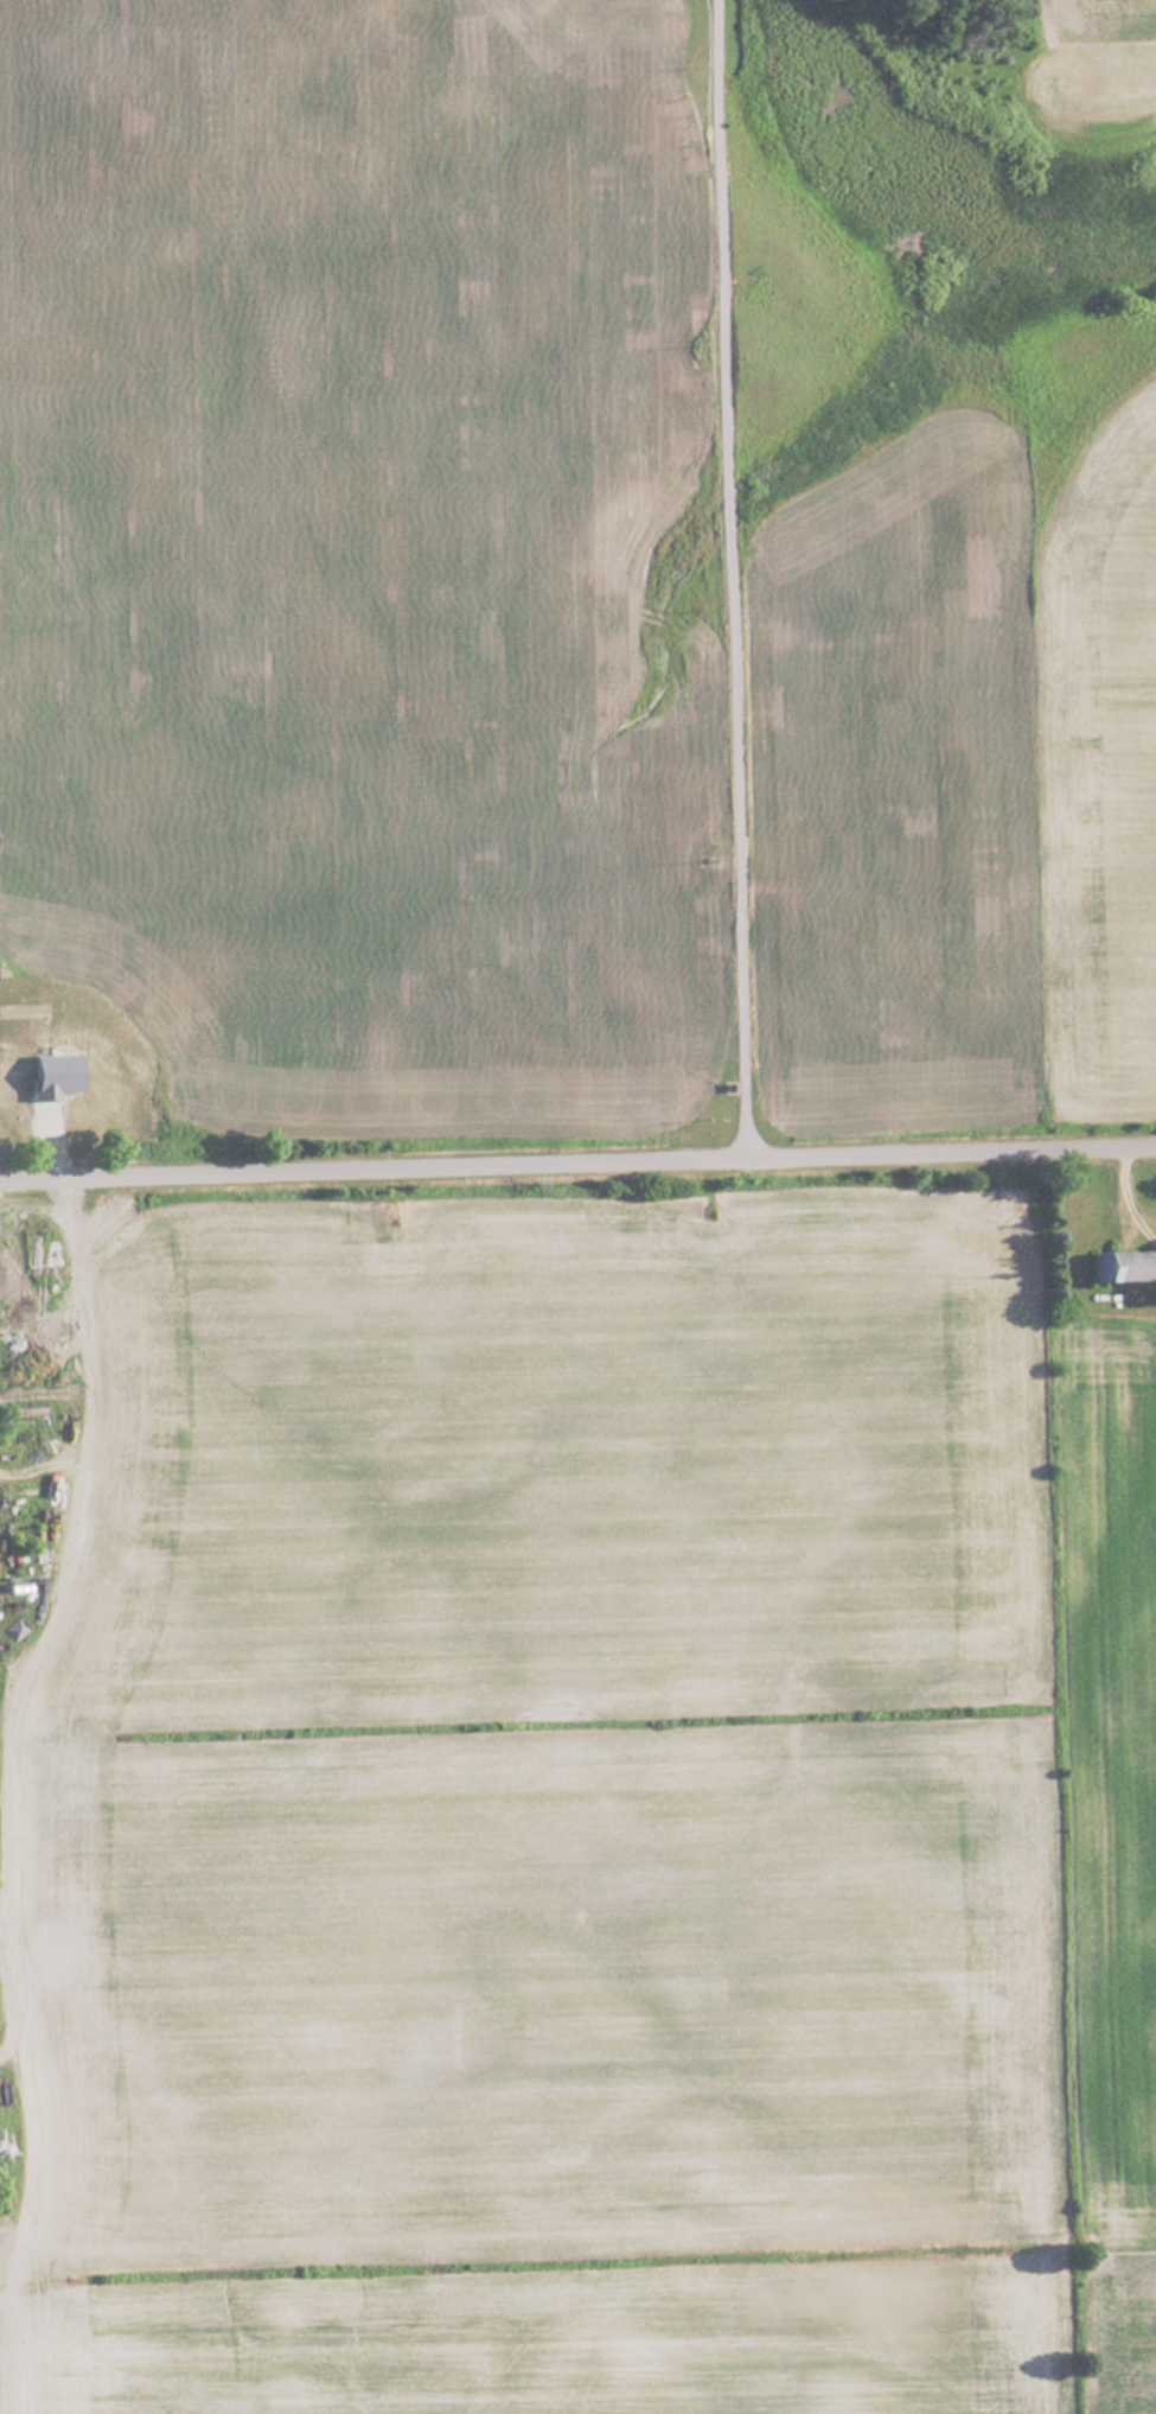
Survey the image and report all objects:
road: (730, 579)
road: (577, 1163)
building: (1115, 1265)
building: (27, 1733)

